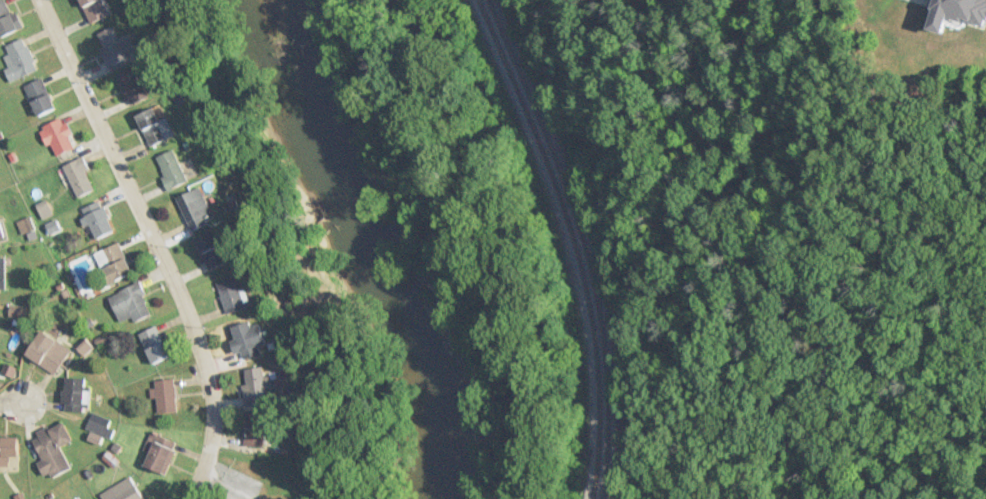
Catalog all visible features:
building: (95, 9)
building: (959, 13)
building: (8, 19)
building: (112, 45)
building: (19, 60)
building: (133, 86)
building: (41, 97)
building: (153, 126)
building: (60, 136)
building: (172, 169)
building: (80, 176)
building: (196, 208)
building: (98, 220)
building: (1, 232)
railway: (574, 241)
railway: (583, 241)
road: (504, 243)
road: (154, 244)
river: (379, 245)
building: (212, 250)
building: (119, 261)
building: (2, 272)
building: (232, 295)
building: (131, 304)
building: (249, 340)
building: (156, 345)
building: (49, 352)
building: (255, 387)
building: (74, 393)
building: (167, 396)
road: (10, 401)
building: (256, 430)
building: (54, 449)
building: (9, 450)
building: (160, 454)
park: (618, 468)
building: (124, 490)

